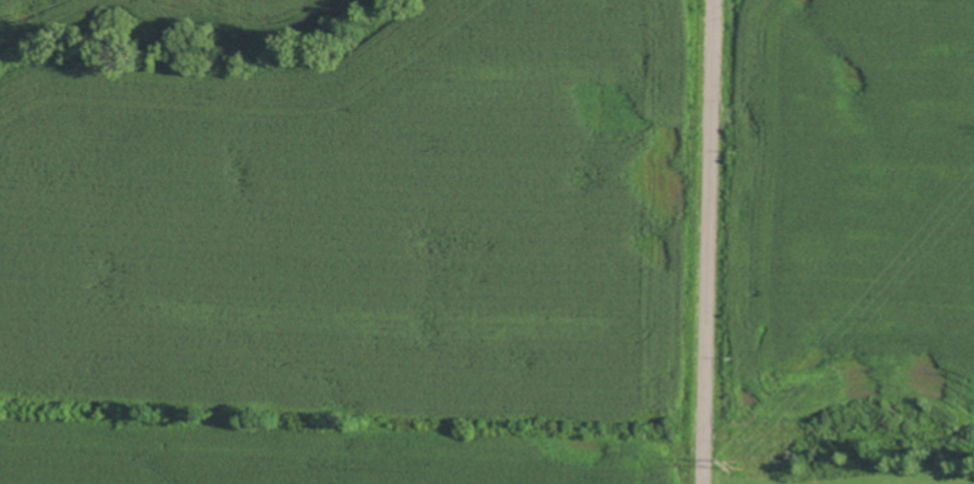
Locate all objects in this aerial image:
road: (712, 242)
power tower: (739, 463)

